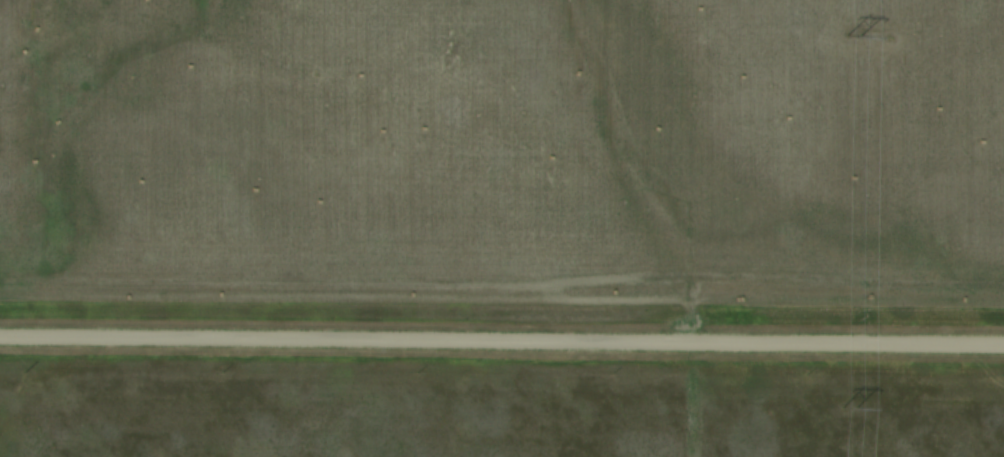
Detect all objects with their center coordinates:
power tower: (853, 37)
road: (501, 340)
power tower: (847, 408)

